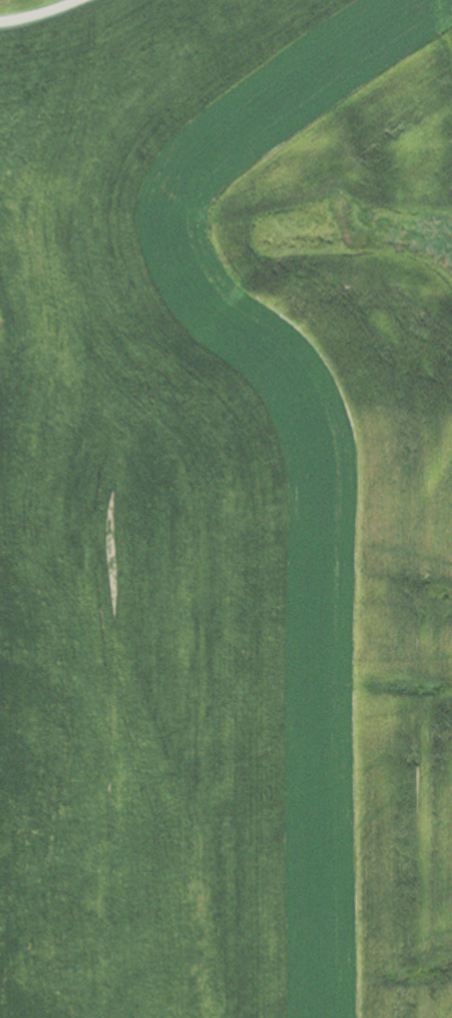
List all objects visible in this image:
road: (37, 15)

